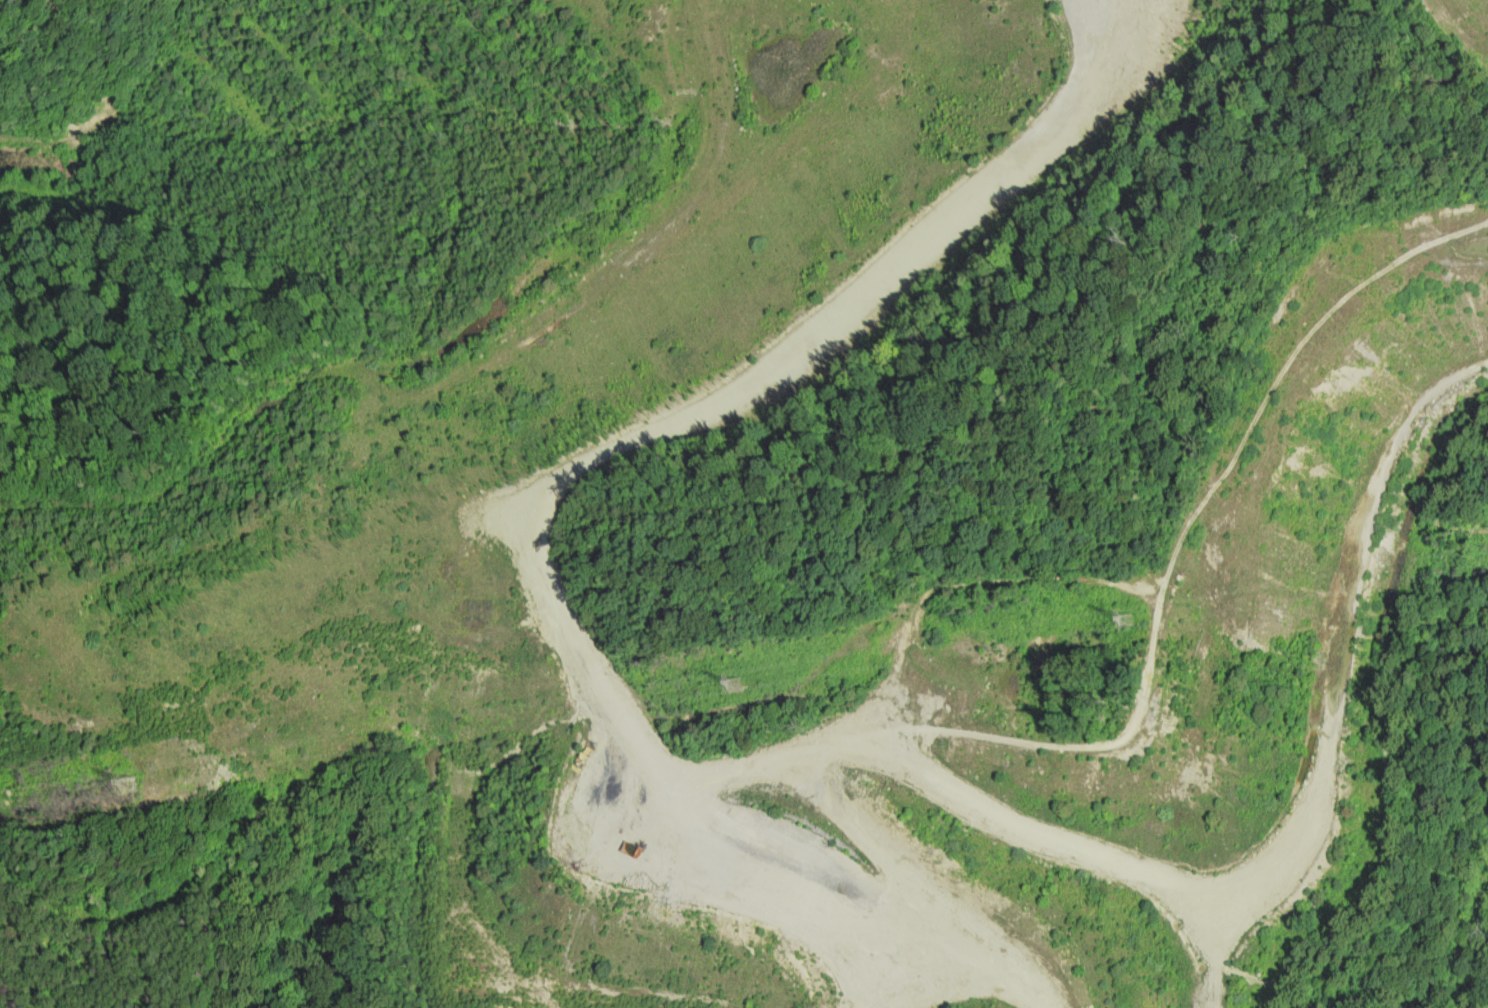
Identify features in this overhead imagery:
power tower: (1132, 617)
power tower: (127, 783)

